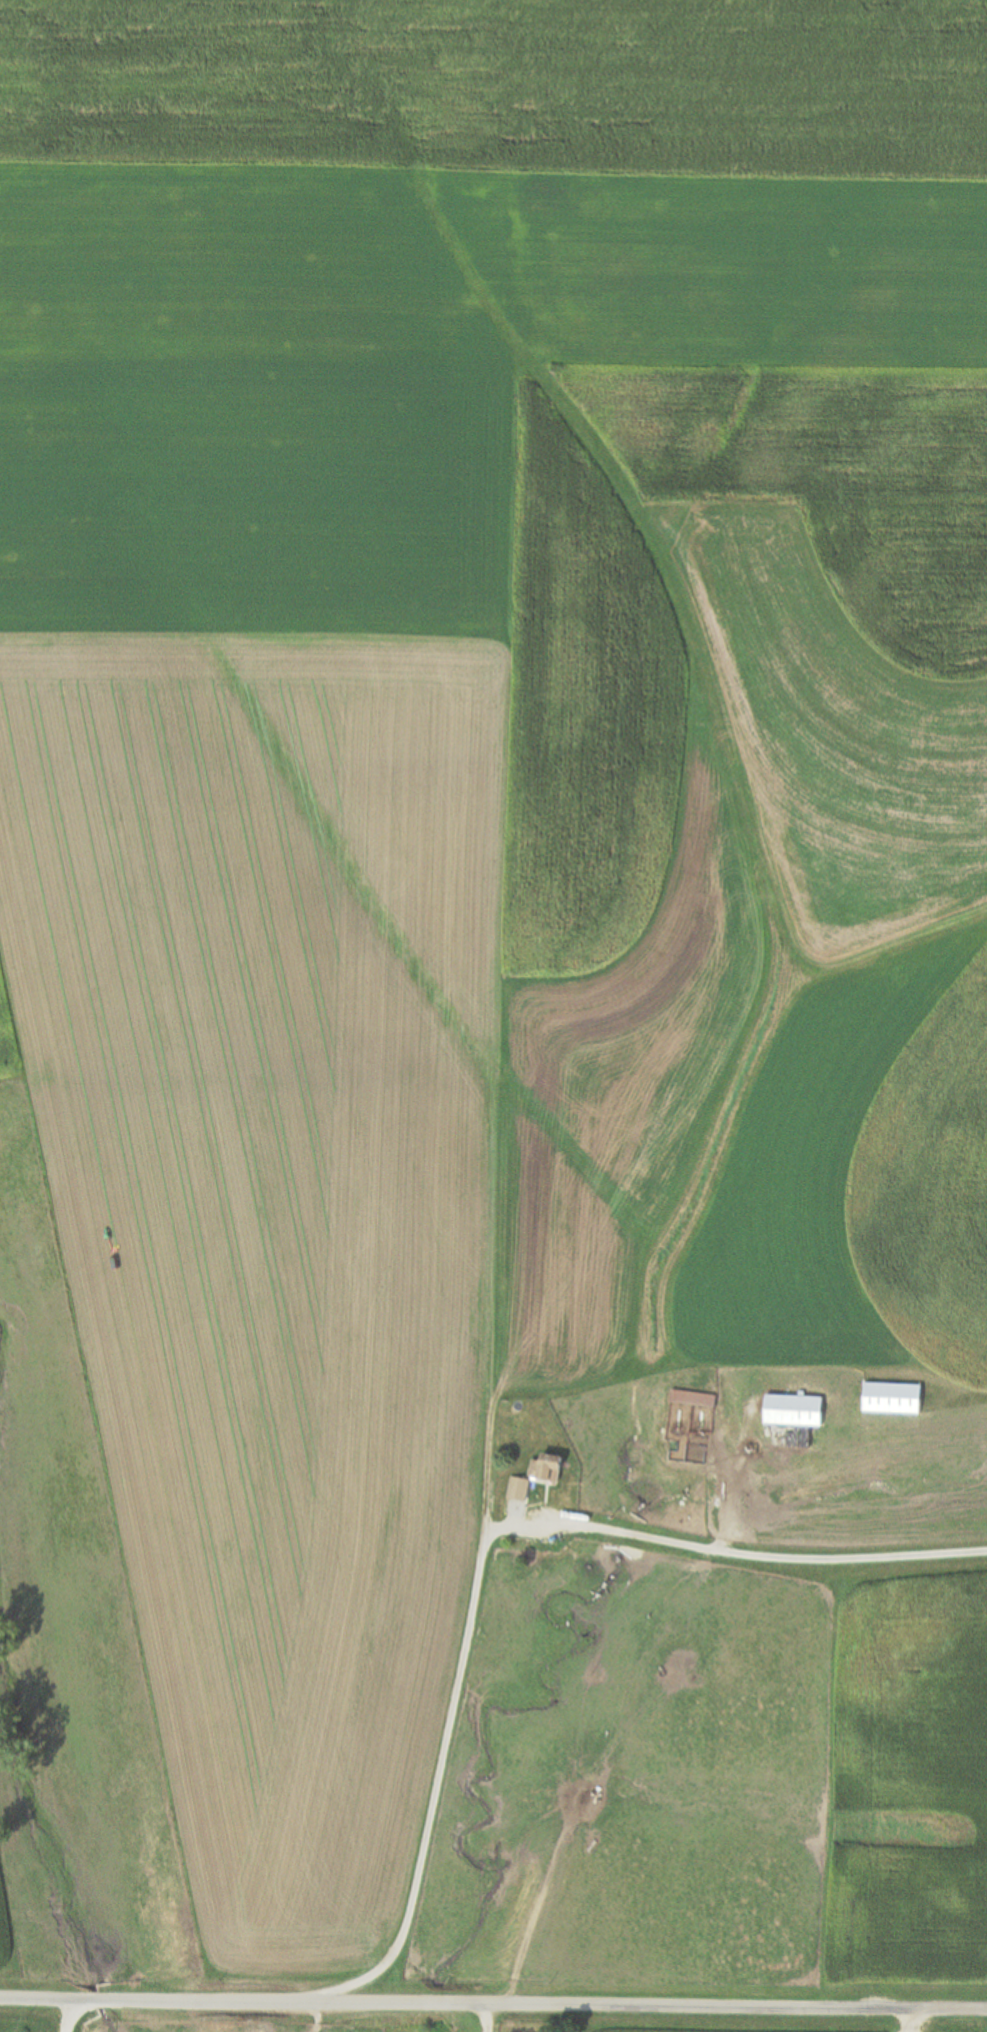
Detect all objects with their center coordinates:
building: (893, 1398)
building: (694, 1399)
building: (795, 1411)
building: (537, 1476)
road: (775, 1556)
road: (446, 1756)
road: (493, 2001)
road: (70, 2015)

